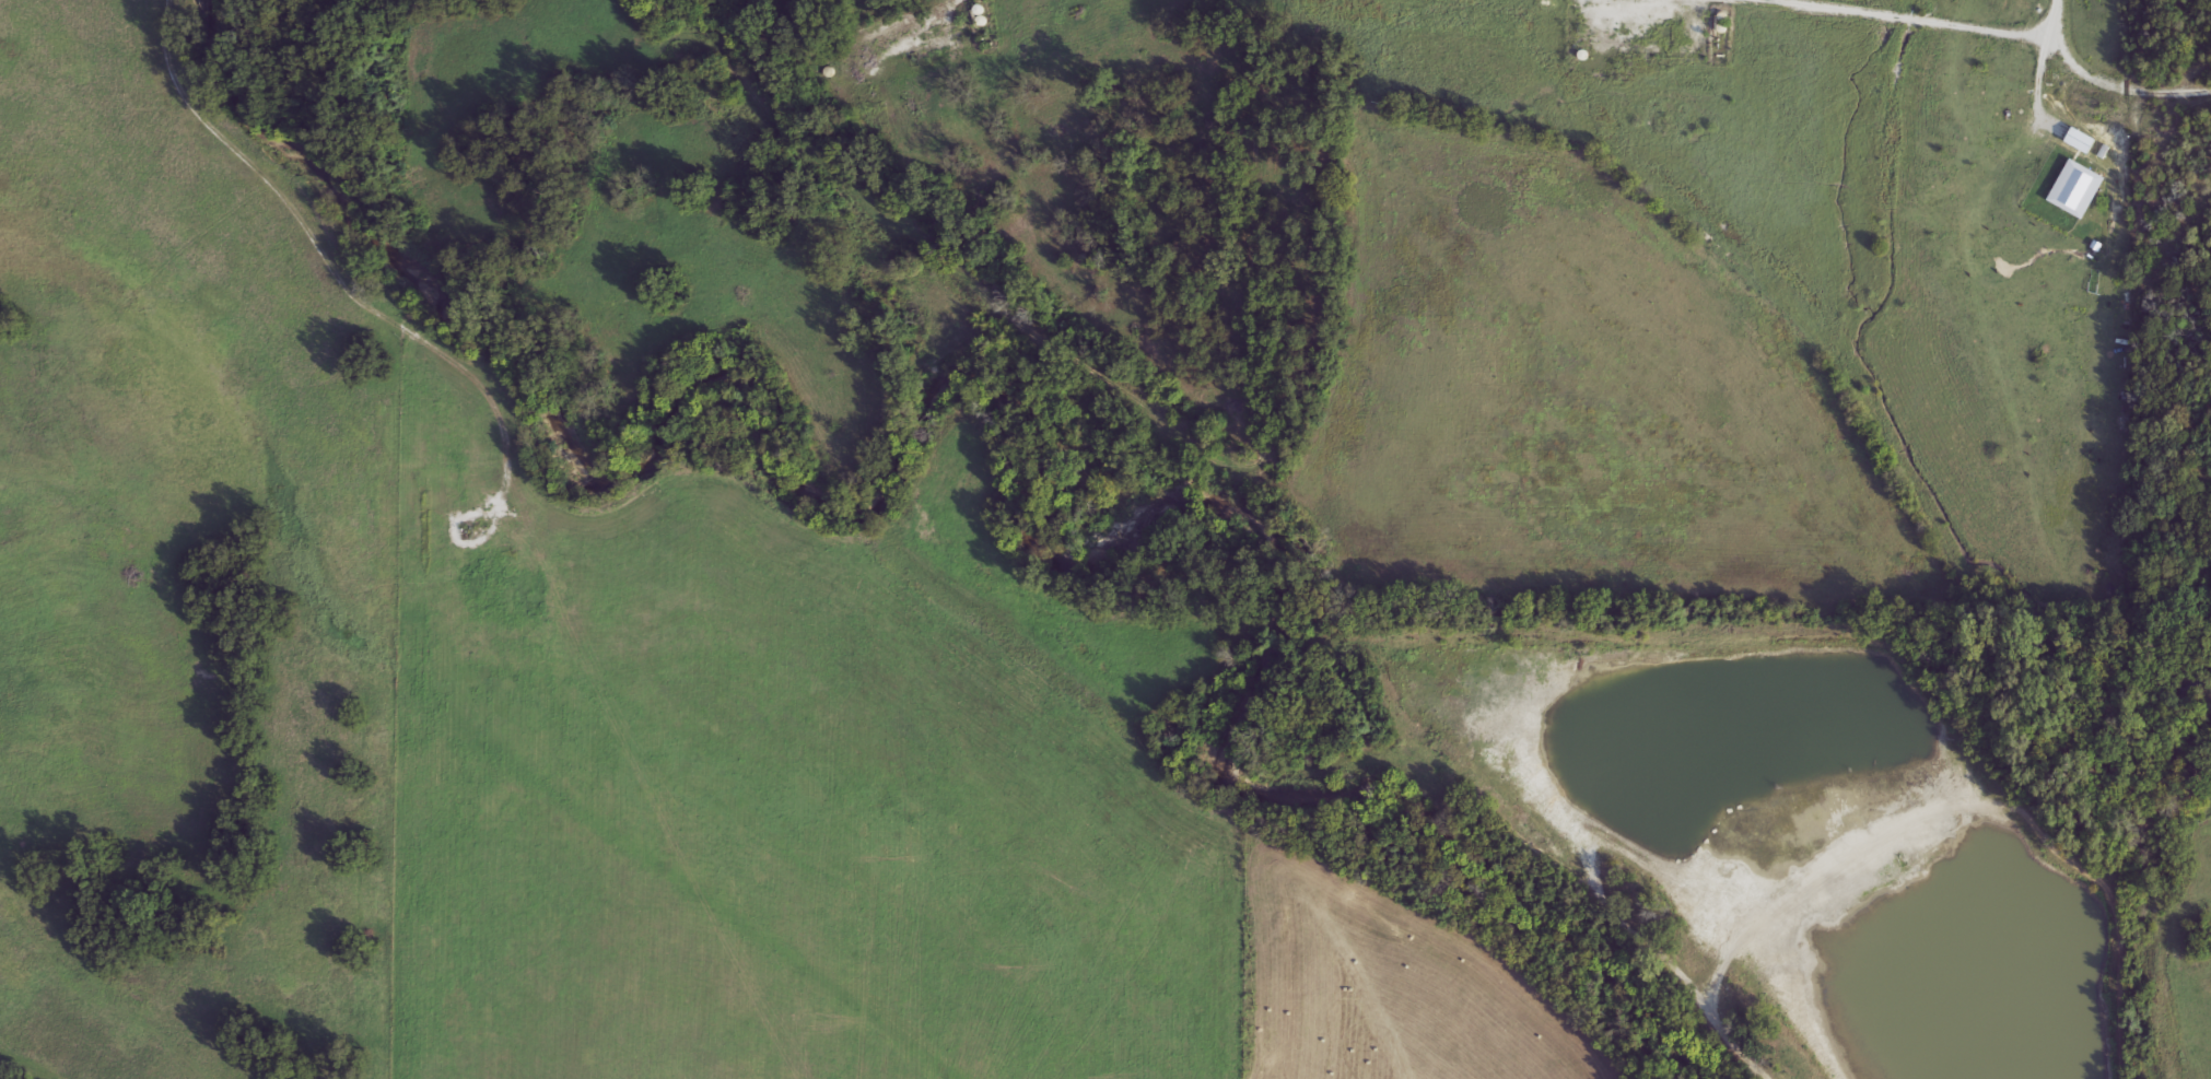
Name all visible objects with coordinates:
road: (1997, 27)
road: (2046, 49)
building: (2078, 190)

